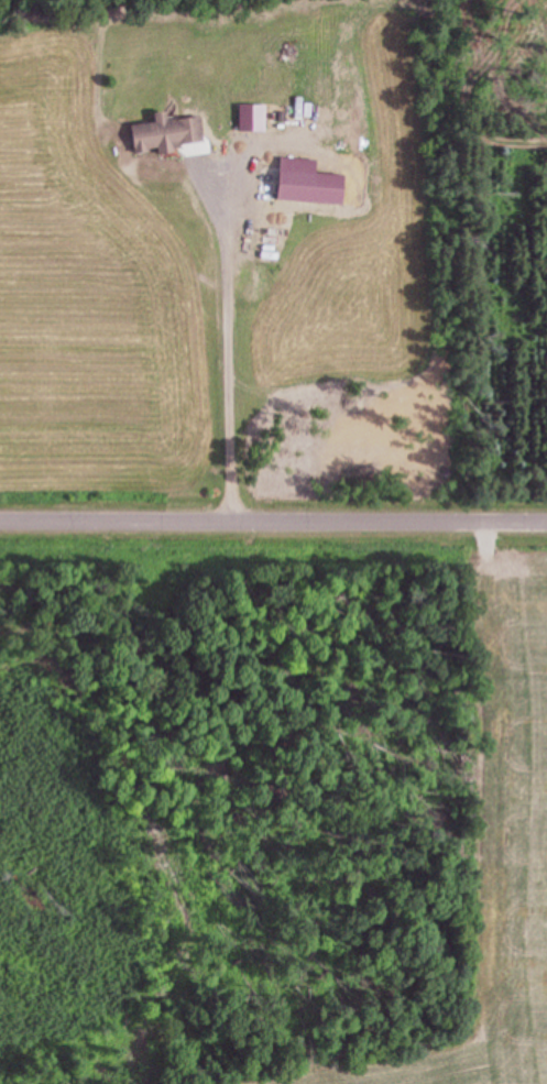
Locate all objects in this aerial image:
building: (255, 118)
building: (172, 133)
building: (314, 183)
road: (273, 529)

